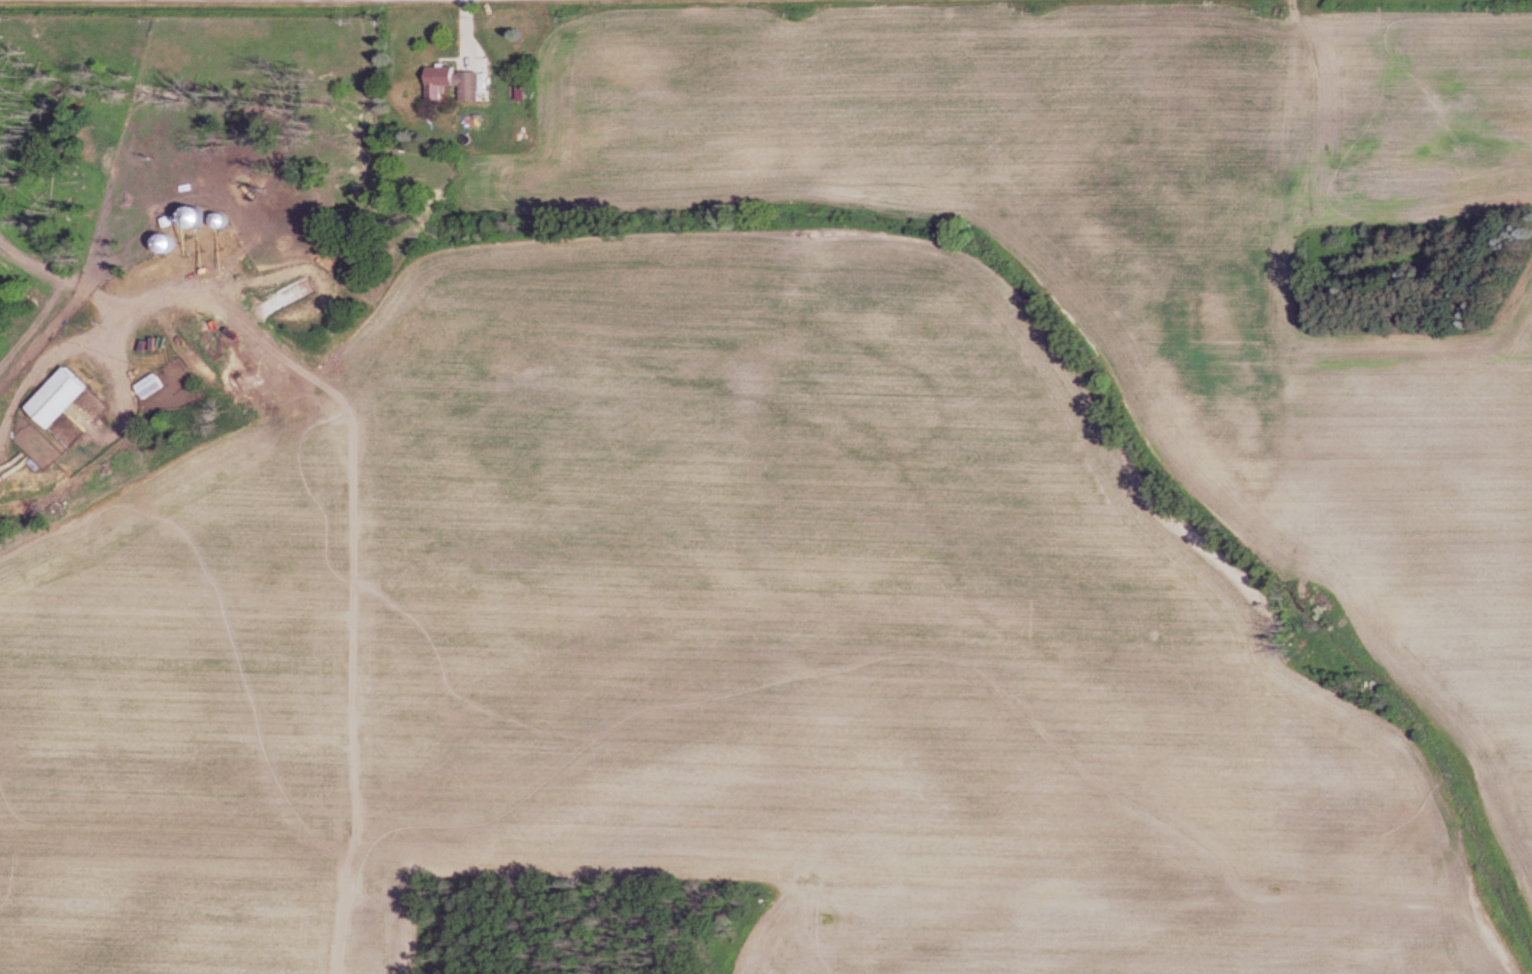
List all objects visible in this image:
building: (469, 53)
building: (454, 82)
building: (169, 243)
building: (152, 385)
building: (62, 397)

